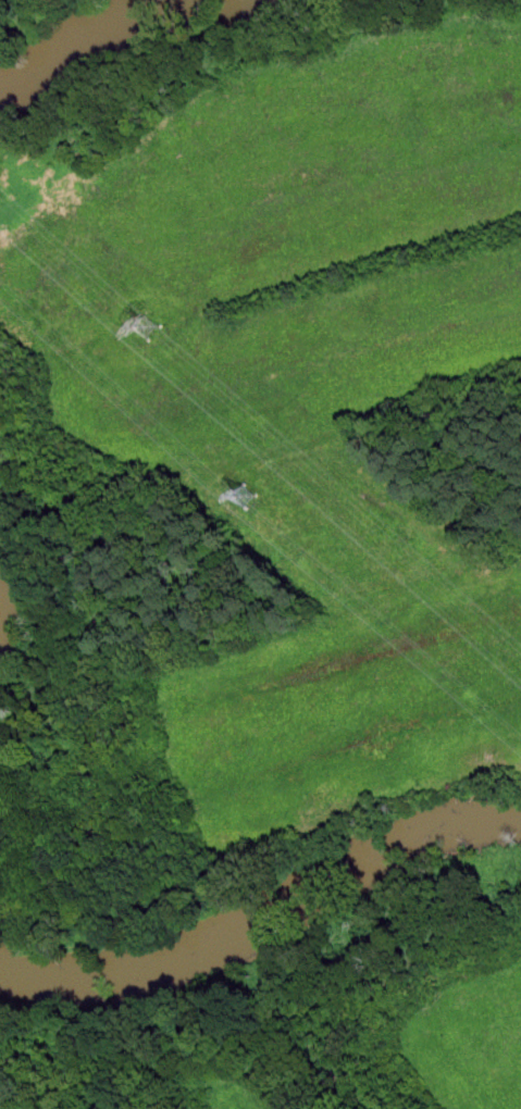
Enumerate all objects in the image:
river: (123, 45)
power tower: (151, 331)
power tower: (246, 499)
river: (264, 922)

